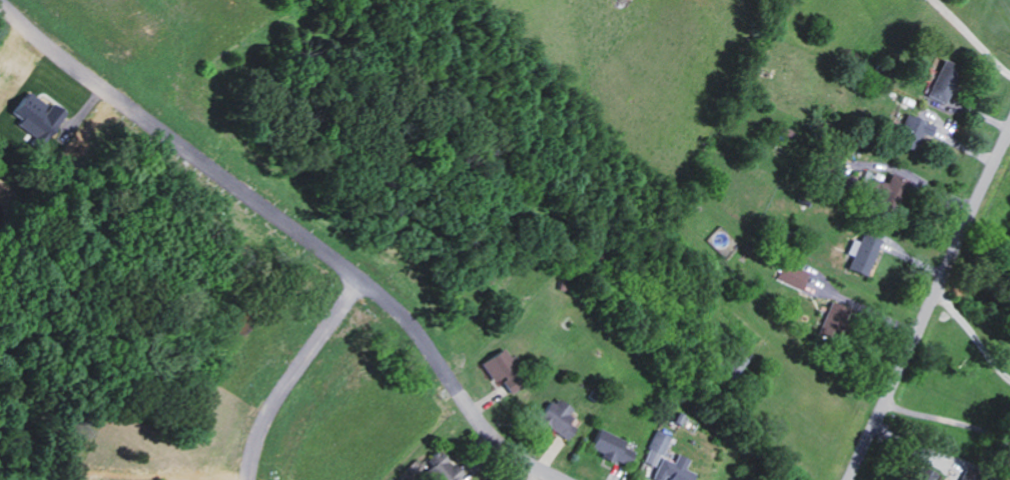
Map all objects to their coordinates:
road: (972, 36)
building: (945, 80)
building: (41, 116)
building: (915, 130)
road: (240, 187)
building: (866, 252)
building: (794, 274)
road: (929, 303)
road: (973, 335)
building: (505, 369)
road: (292, 374)
building: (559, 416)
road: (949, 418)
road: (501, 445)
building: (613, 446)
building: (668, 460)
building: (445, 467)
building: (931, 475)
building: (970, 475)

